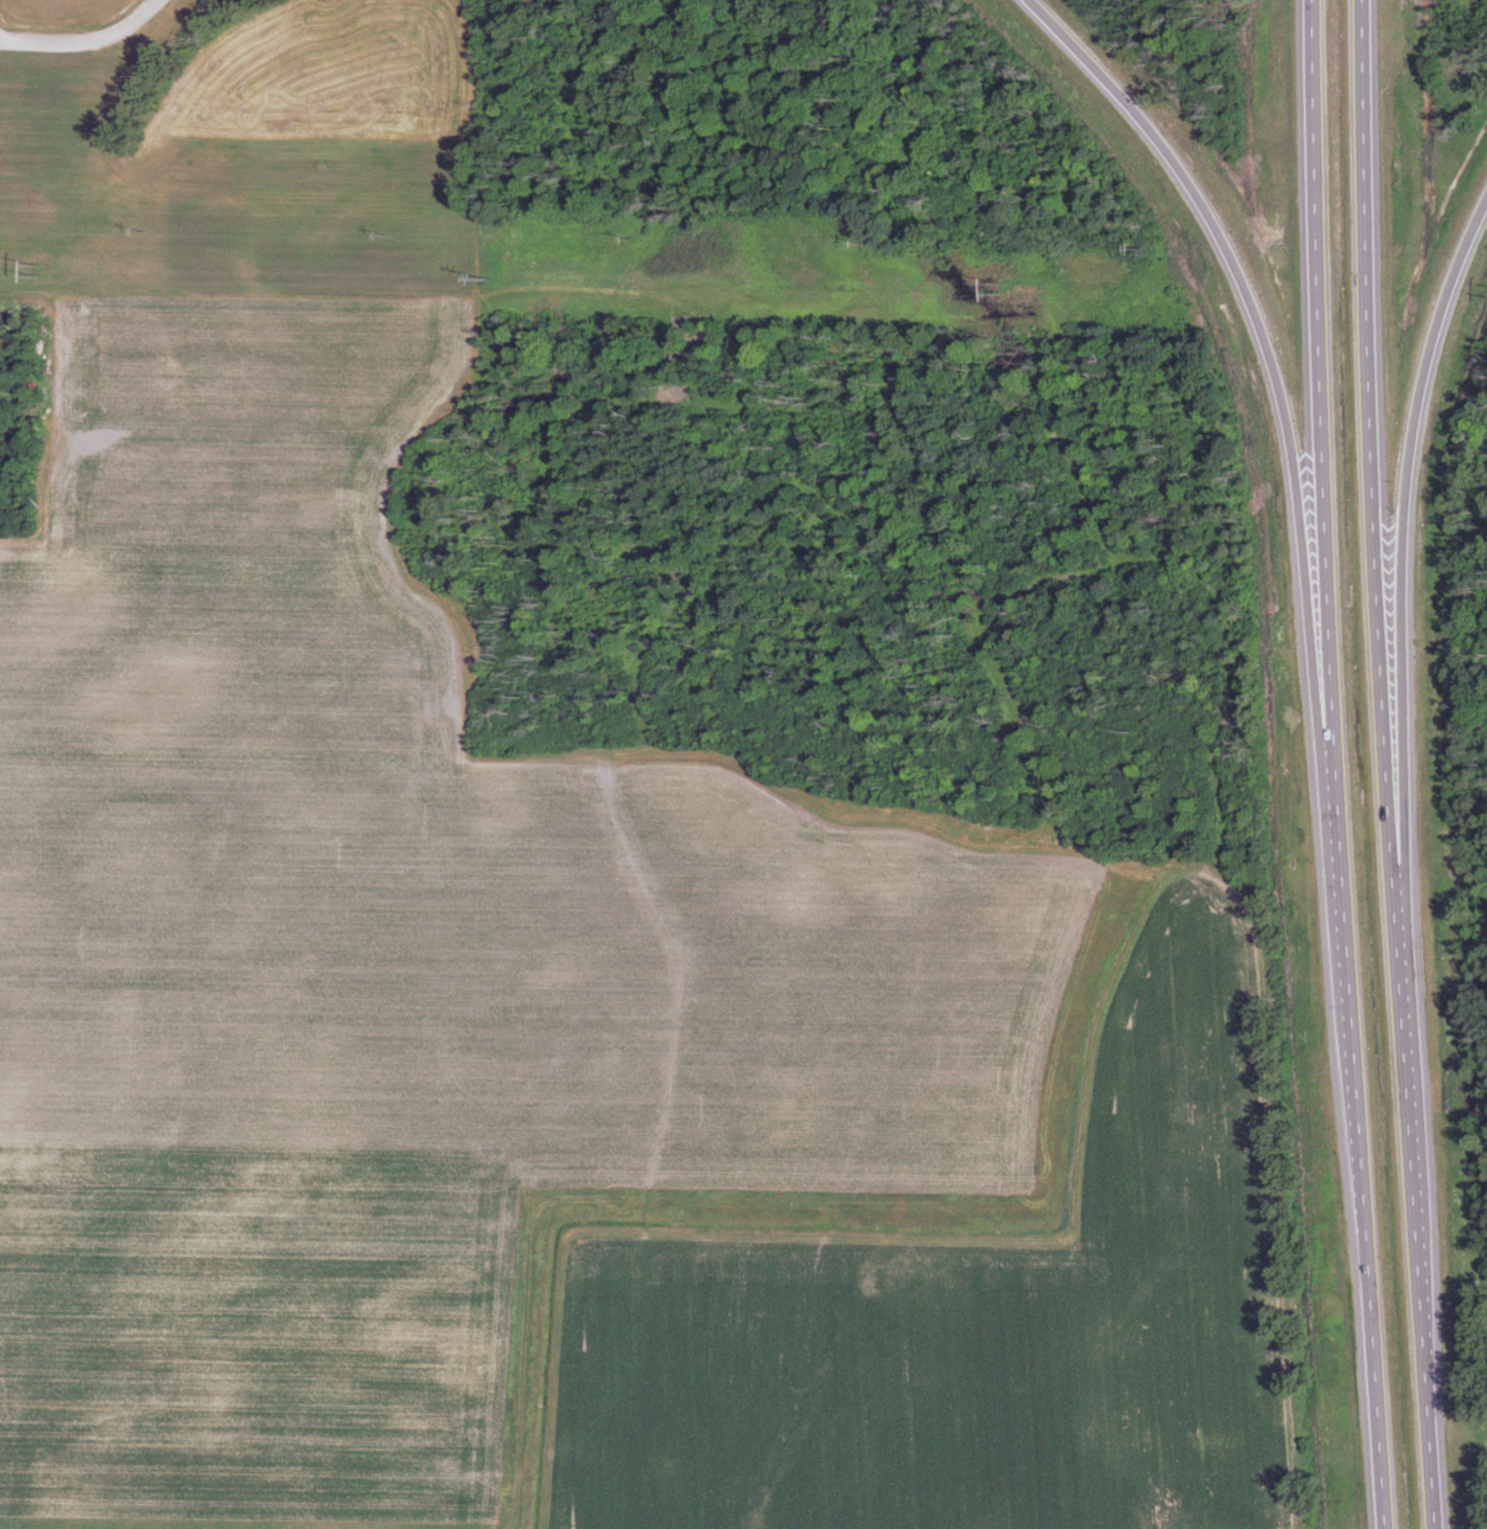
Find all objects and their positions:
road: (80, 41)
crop: (63, 107)
road: (178, 156)
power tower: (37, 271)
power tower: (487, 280)
power tower: (996, 289)
road: (1264, 339)
road: (1403, 524)
road: (1335, 765)
road: (1386, 765)
crop: (382, 913)
crop: (762, 1220)
road: (866, 1243)
crop: (978, 1325)

